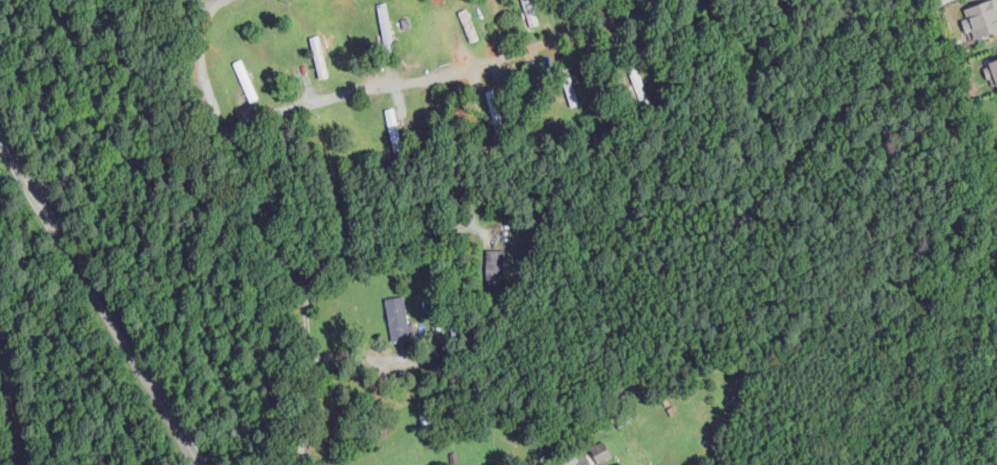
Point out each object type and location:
building: (530, 12)
building: (980, 17)
building: (384, 22)
building: (467, 24)
building: (317, 56)
road: (205, 66)
building: (992, 71)
road: (449, 77)
building: (492, 102)
building: (392, 126)
road: (120, 160)
road: (12, 185)
road: (350, 255)
building: (495, 265)
road: (98, 303)
building: (397, 319)
road: (311, 370)
building: (600, 451)
road: (583, 462)

